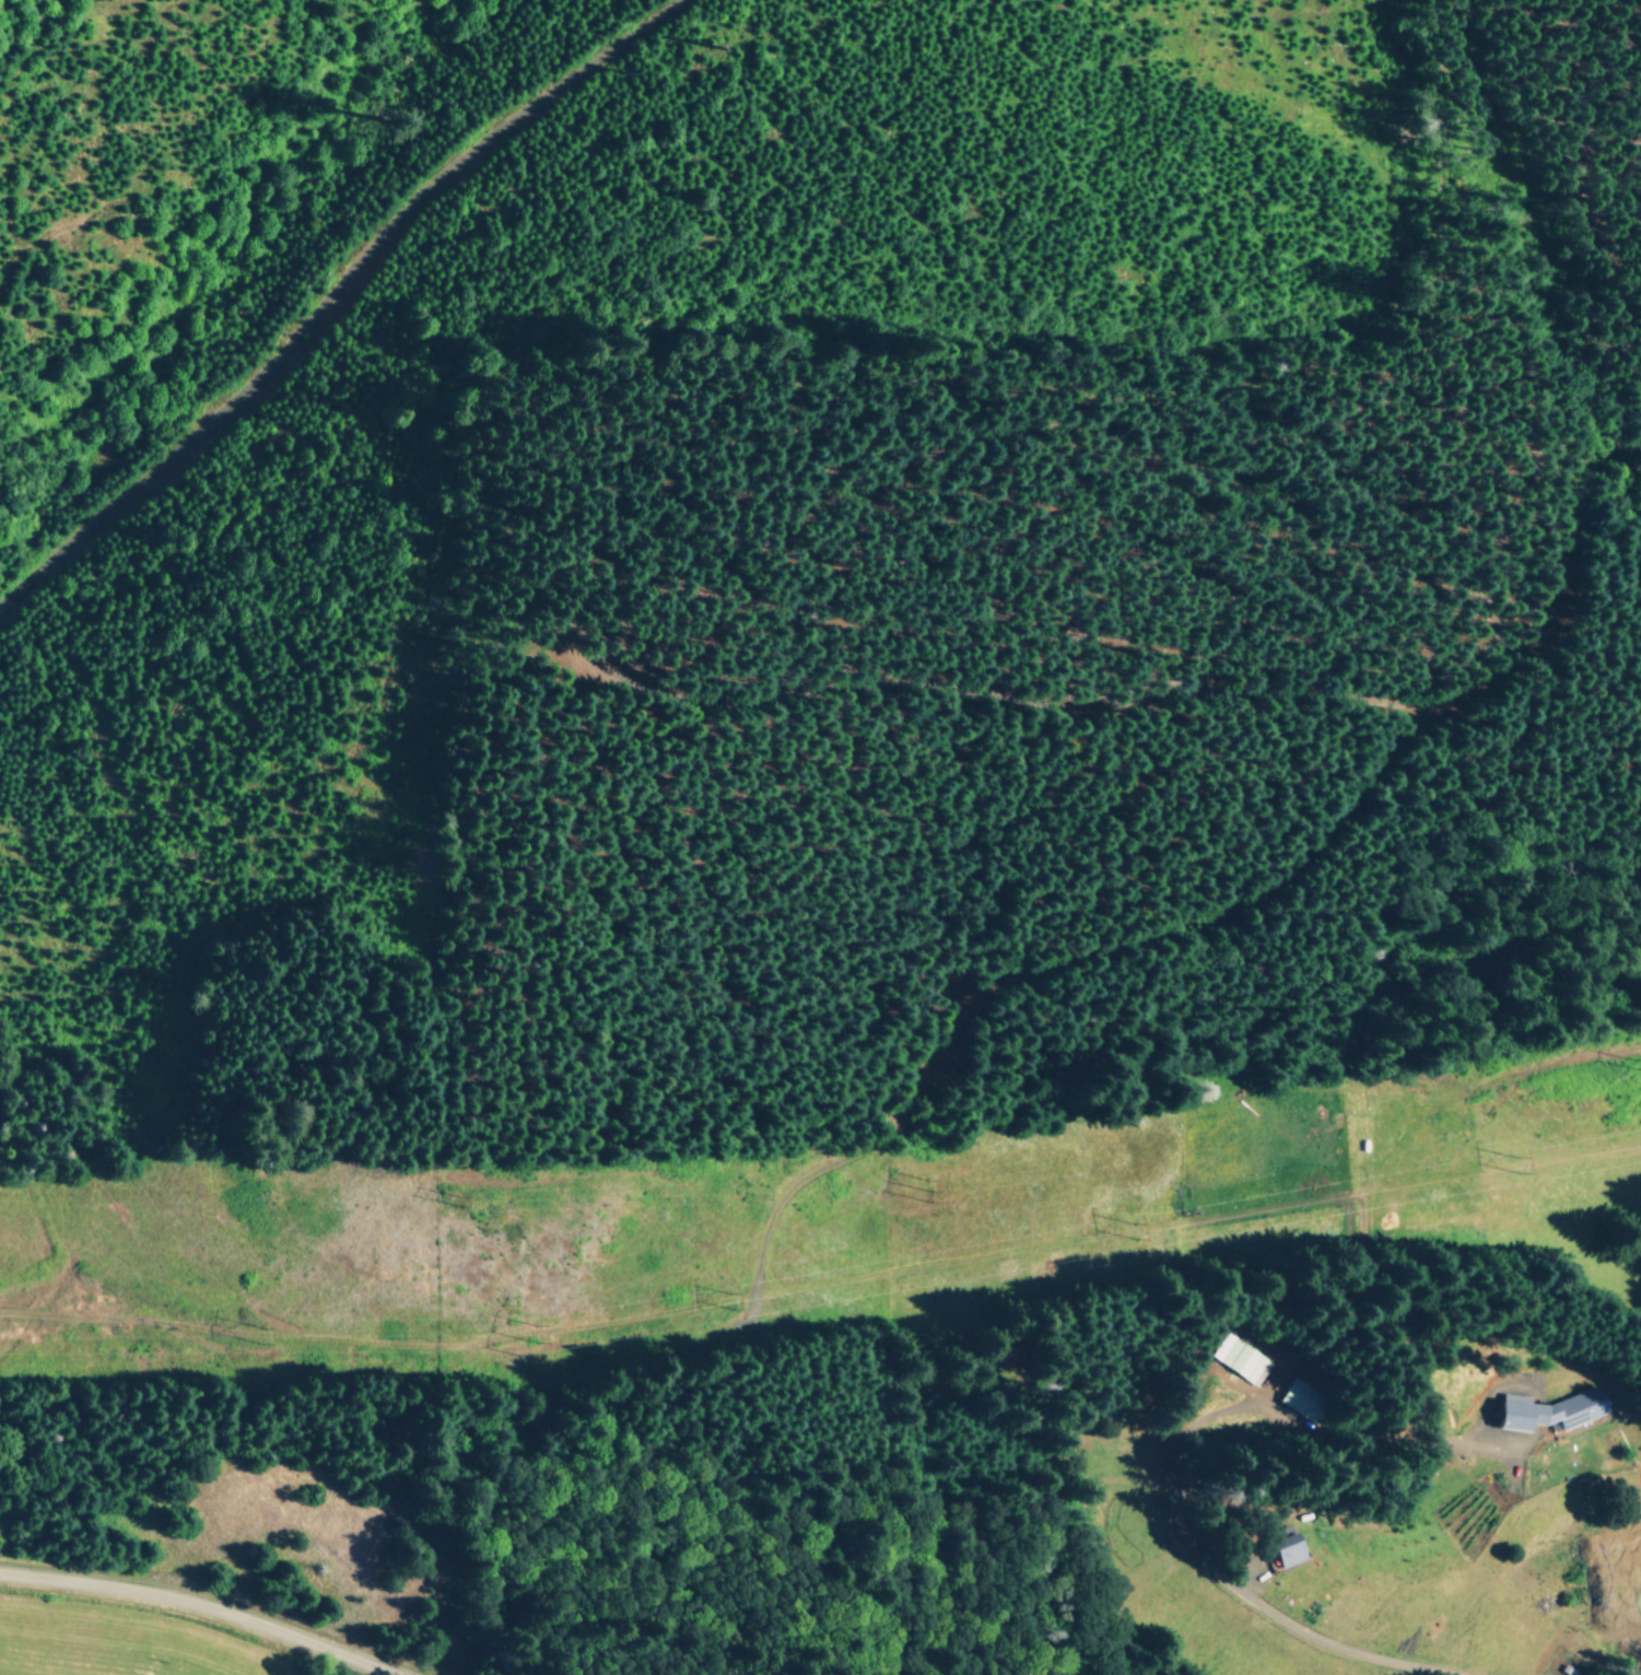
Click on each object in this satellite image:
power tower: (1527, 1168)
power tower: (1141, 1234)
power tower: (735, 1302)
power tower: (540, 1336)
power tower: (269, 1338)
building: (1239, 1357)
building: (1302, 1398)
building: (1285, 1548)
road: (209, 1604)
road: (1331, 1641)

